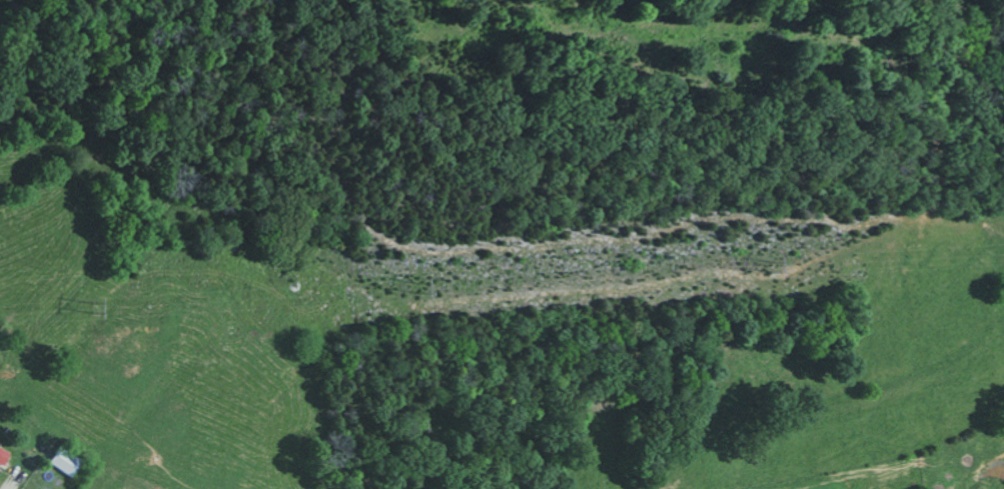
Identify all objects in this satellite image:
power tower: (795, 272)
power tower: (83, 305)
building: (3, 456)
building: (65, 460)

